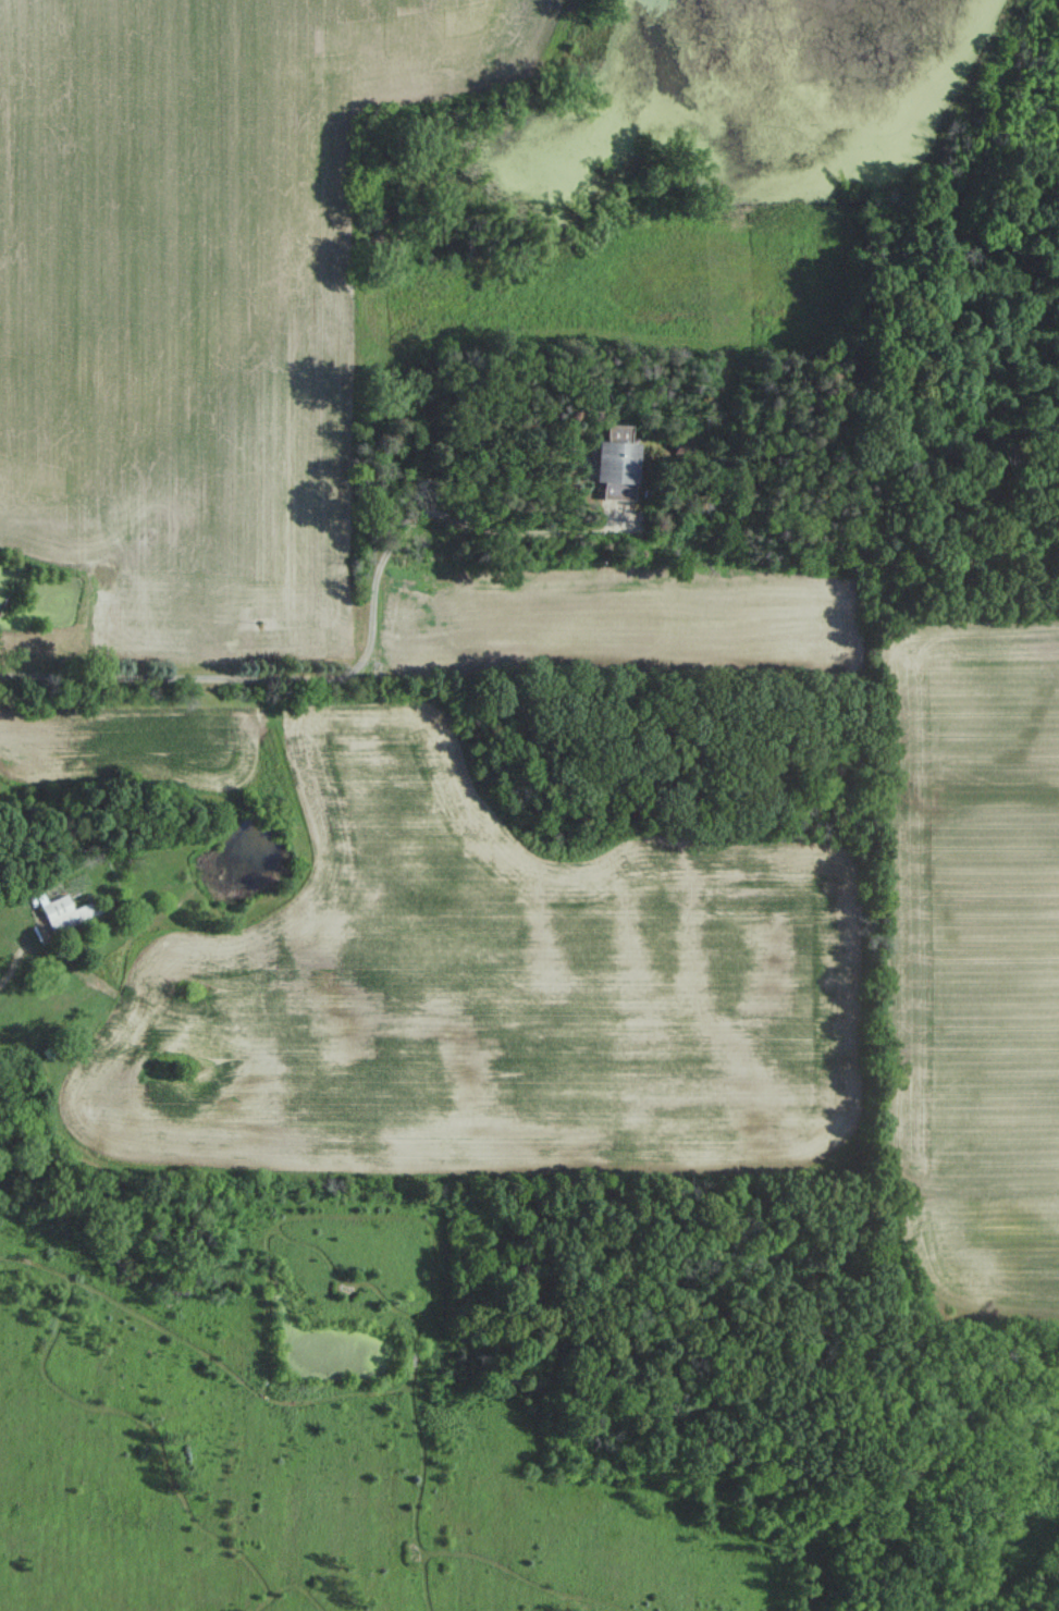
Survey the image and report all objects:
building: (613, 468)
road: (358, 661)
building: (67, 905)
road: (19, 964)

